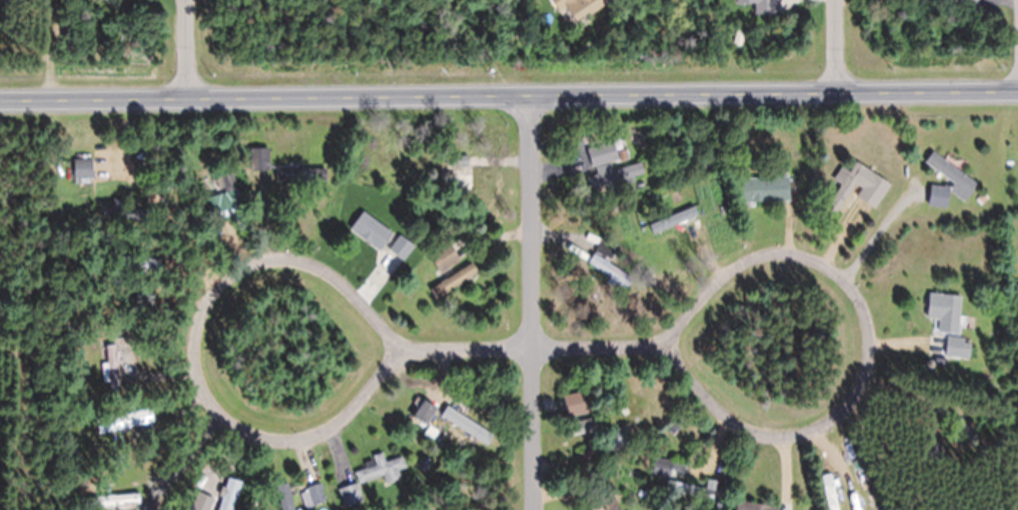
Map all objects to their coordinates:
building: (104, 0)
building: (967, 2)
building: (759, 6)
building: (577, 7)
road: (834, 47)
road: (185, 49)
road: (509, 97)
building: (615, 118)
building: (814, 126)
building: (104, 141)
building: (611, 146)
building: (733, 149)
building: (598, 154)
building: (259, 158)
building: (460, 160)
building: (85, 167)
building: (951, 172)
building: (301, 173)
building: (614, 174)
building: (457, 181)
building: (759, 183)
building: (699, 189)
building: (871, 191)
building: (938, 194)
building: (233, 196)
building: (215, 206)
building: (128, 211)
building: (675, 218)
building: (369, 236)
building: (401, 247)
building: (606, 247)
building: (1017, 248)
building: (444, 257)
building: (138, 263)
building: (610, 271)
building: (454, 279)
building: (117, 299)
road: (529, 304)
building: (944, 310)
building: (79, 325)
building: (117, 327)
building: (954, 346)
road: (605, 347)
road: (453, 353)
building: (113, 368)
road: (693, 389)
road: (367, 393)
building: (625, 410)
building: (423, 411)
building: (139, 418)
building: (956, 422)
building: (467, 424)
building: (602, 424)
building: (68, 445)
building: (935, 446)
building: (68, 455)
building: (665, 466)
building: (381, 468)
building: (691, 487)
building: (830, 490)
building: (244, 493)
building: (313, 493)
building: (230, 494)
building: (351, 494)
building: (750, 497)
building: (116, 498)
building: (280, 500)
building: (753, 506)
building: (356, 507)

